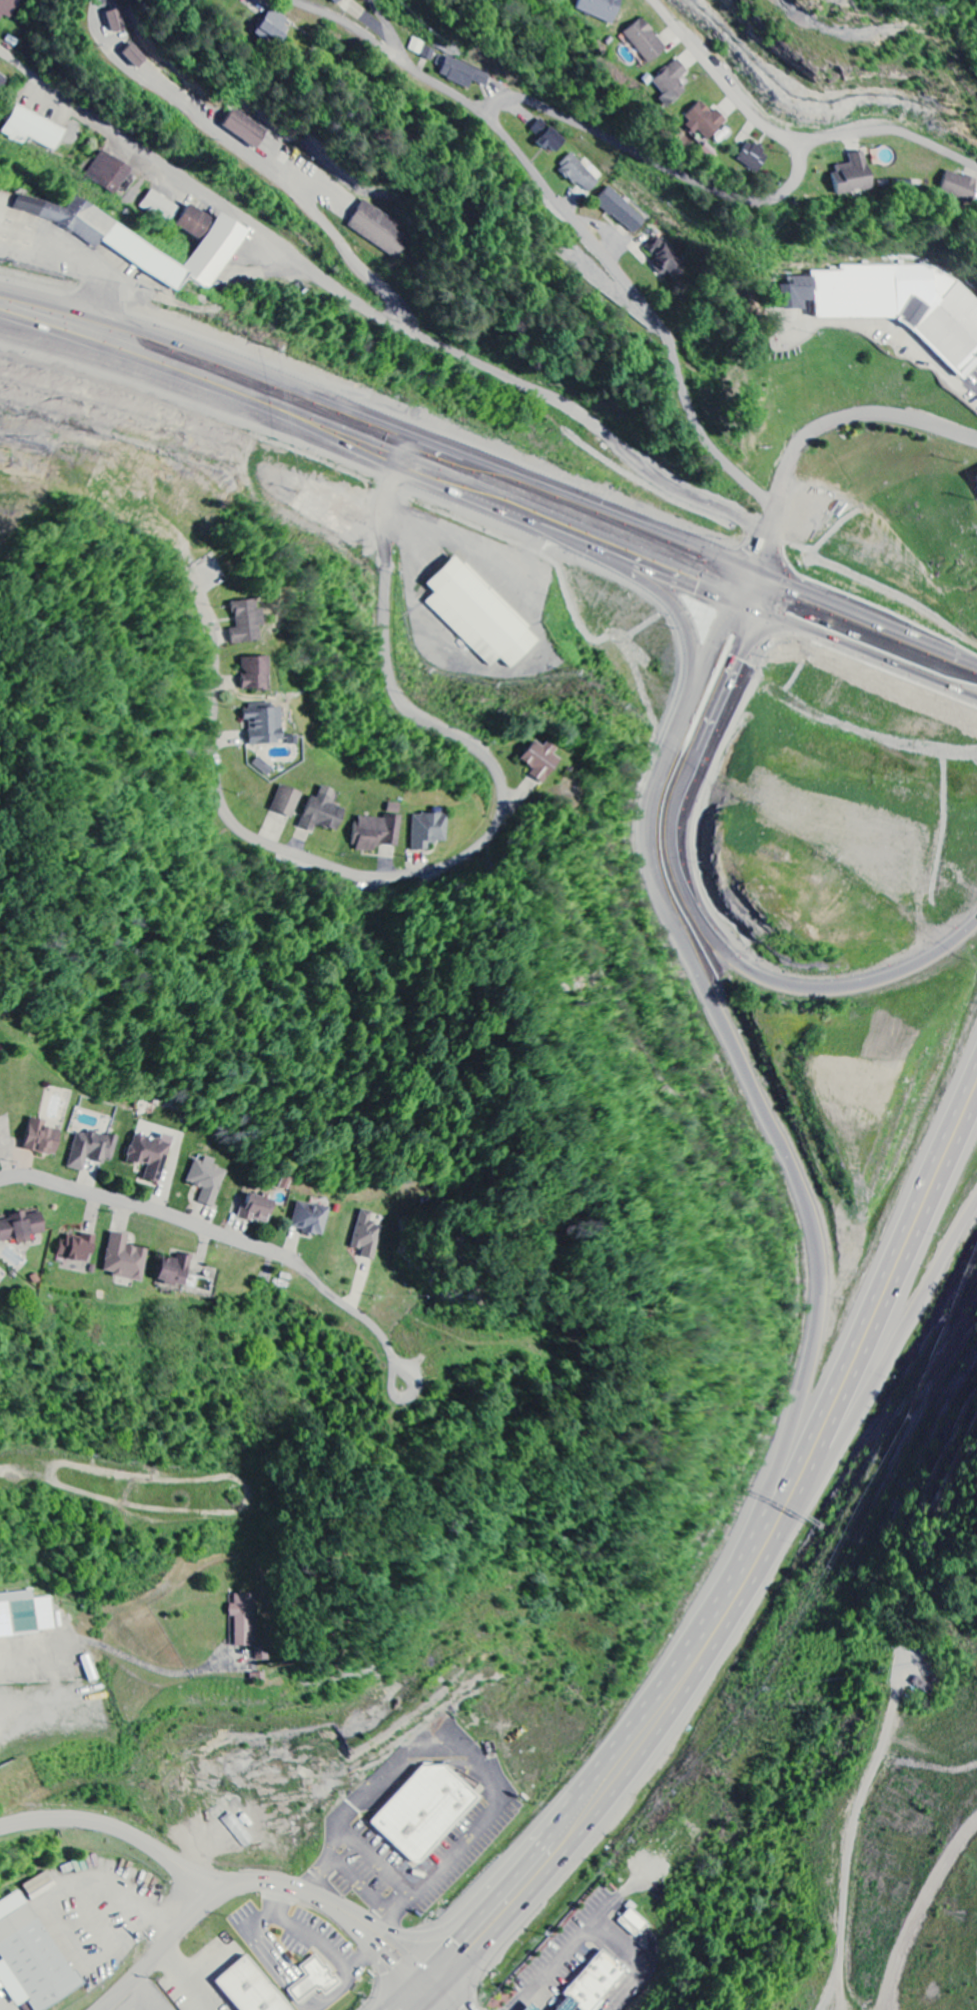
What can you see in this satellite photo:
building: (337, 1)
building: (8, 8)
building: (601, 9)
building: (117, 21)
building: (274, 27)
building: (646, 41)
building: (430, 54)
building: (135, 57)
building: (465, 74)
building: (3, 82)
building: (672, 82)
building: (706, 121)
building: (34, 129)
building: (245, 129)
building: (547, 137)
building: (753, 158)
building: (109, 173)
building: (580, 175)
building: (853, 176)
building: (959, 187)
road: (738, 197)
building: (162, 207)
building: (622, 211)
road: (570, 216)
building: (105, 237)
building: (211, 245)
building: (668, 261)
building: (898, 305)
road: (370, 313)
road: (193, 338)
road: (823, 425)
road: (570, 487)
road: (570, 505)
road: (762, 577)
road: (659, 592)
road: (868, 612)
building: (480, 616)
building: (247, 623)
road: (870, 635)
building: (256, 675)
building: (265, 725)
building: (541, 762)
building: (263, 767)
building: (287, 803)
building: (323, 813)
building: (429, 832)
building: (377, 834)
road: (482, 846)
road: (689, 905)
road: (735, 1043)
building: (42, 1138)
building: (92, 1149)
building: (151, 1155)
building: (207, 1180)
building: (257, 1208)
road: (153, 1209)
building: (311, 1219)
building: (22, 1227)
building: (368, 1236)
building: (78, 1248)
building: (125, 1259)
building: (175, 1270)
road: (869, 1296)
road: (887, 1317)
road: (886, 1361)
building: (26, 1615)
building: (244, 1620)
road: (628, 1782)
road: (588, 1784)
building: (422, 1809)
road: (115, 1829)
road: (349, 1910)
road: (155, 1954)
building: (30, 1958)
building: (315, 1980)
building: (248, 1987)
building: (564, 2002)
gas station: (564, 2002)
building: (529, 2006)
gas station: (529, 2006)

